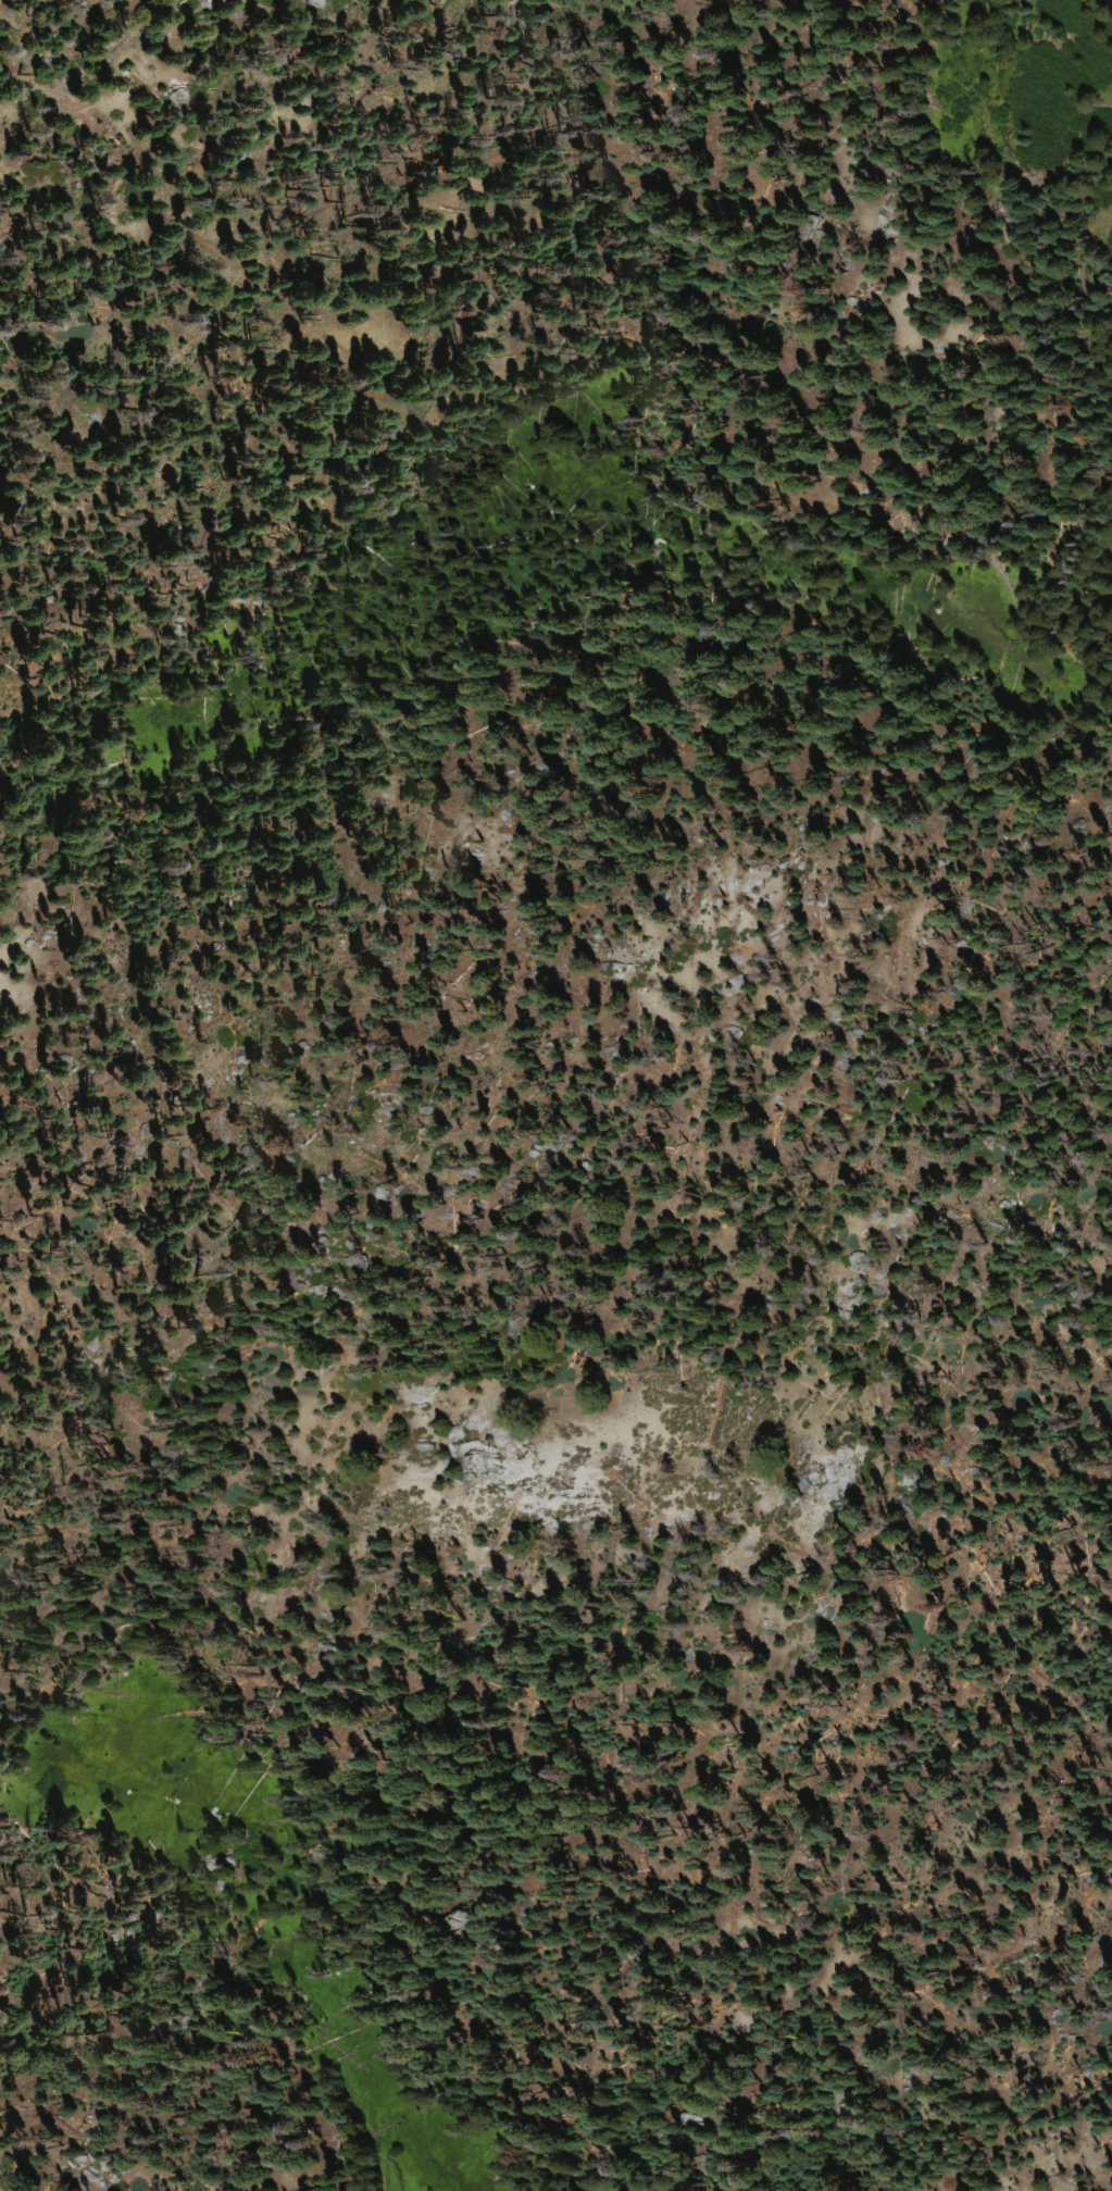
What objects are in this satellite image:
road: (536, 706)

